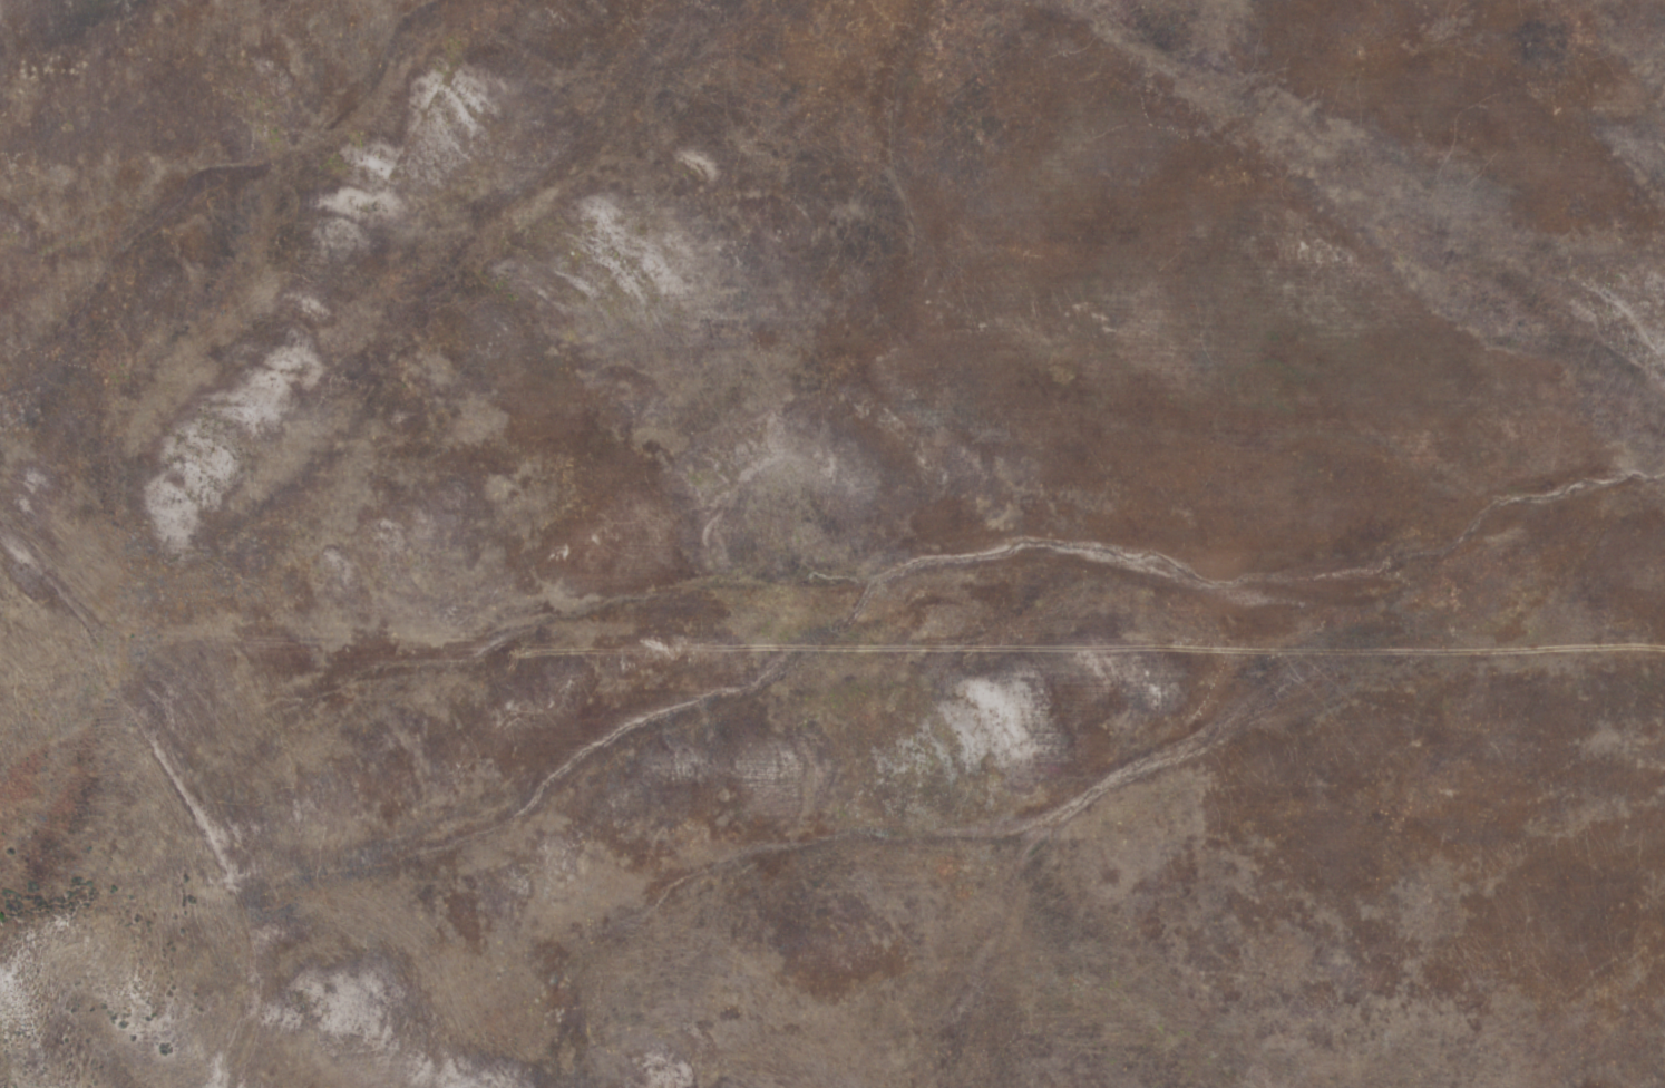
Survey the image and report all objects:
solar farm: (858, 855)

